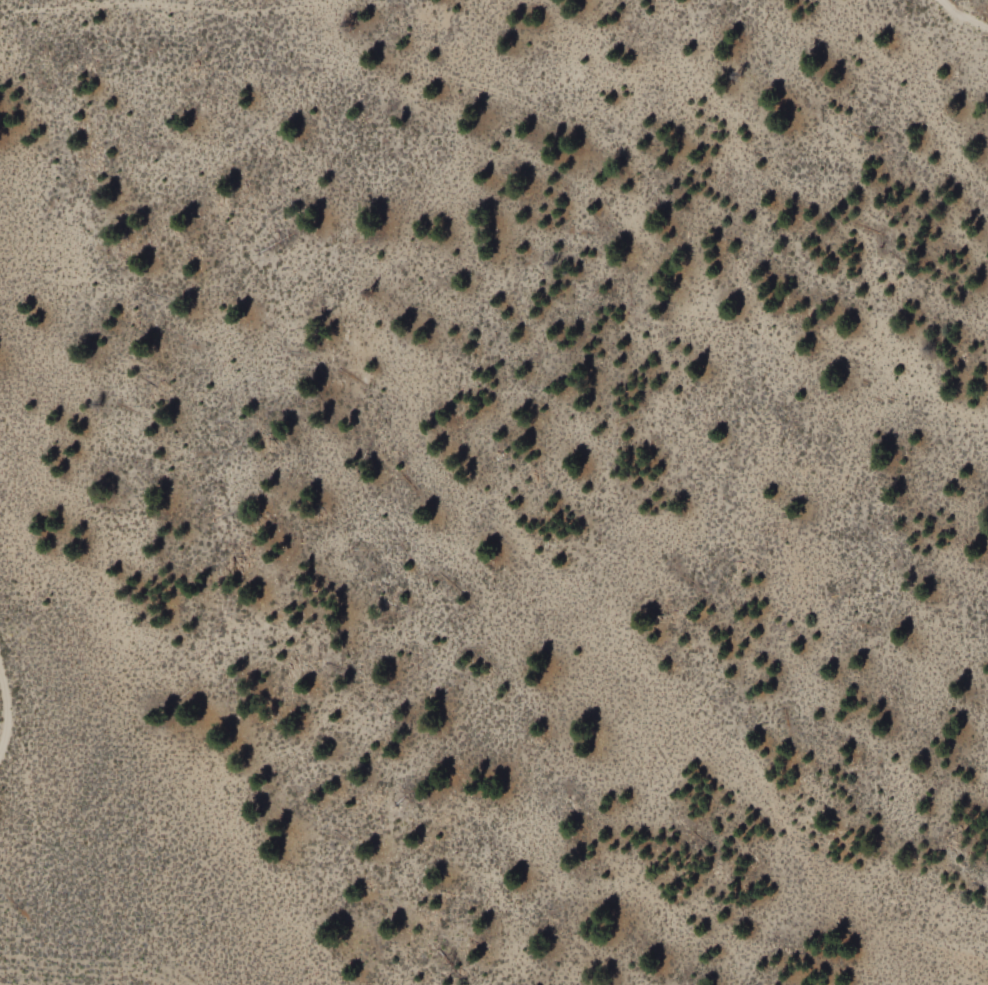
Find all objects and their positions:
road: (295, 12)
road: (960, 16)
road: (907, 101)
road: (553, 119)
road: (10, 714)
road: (44, 840)

